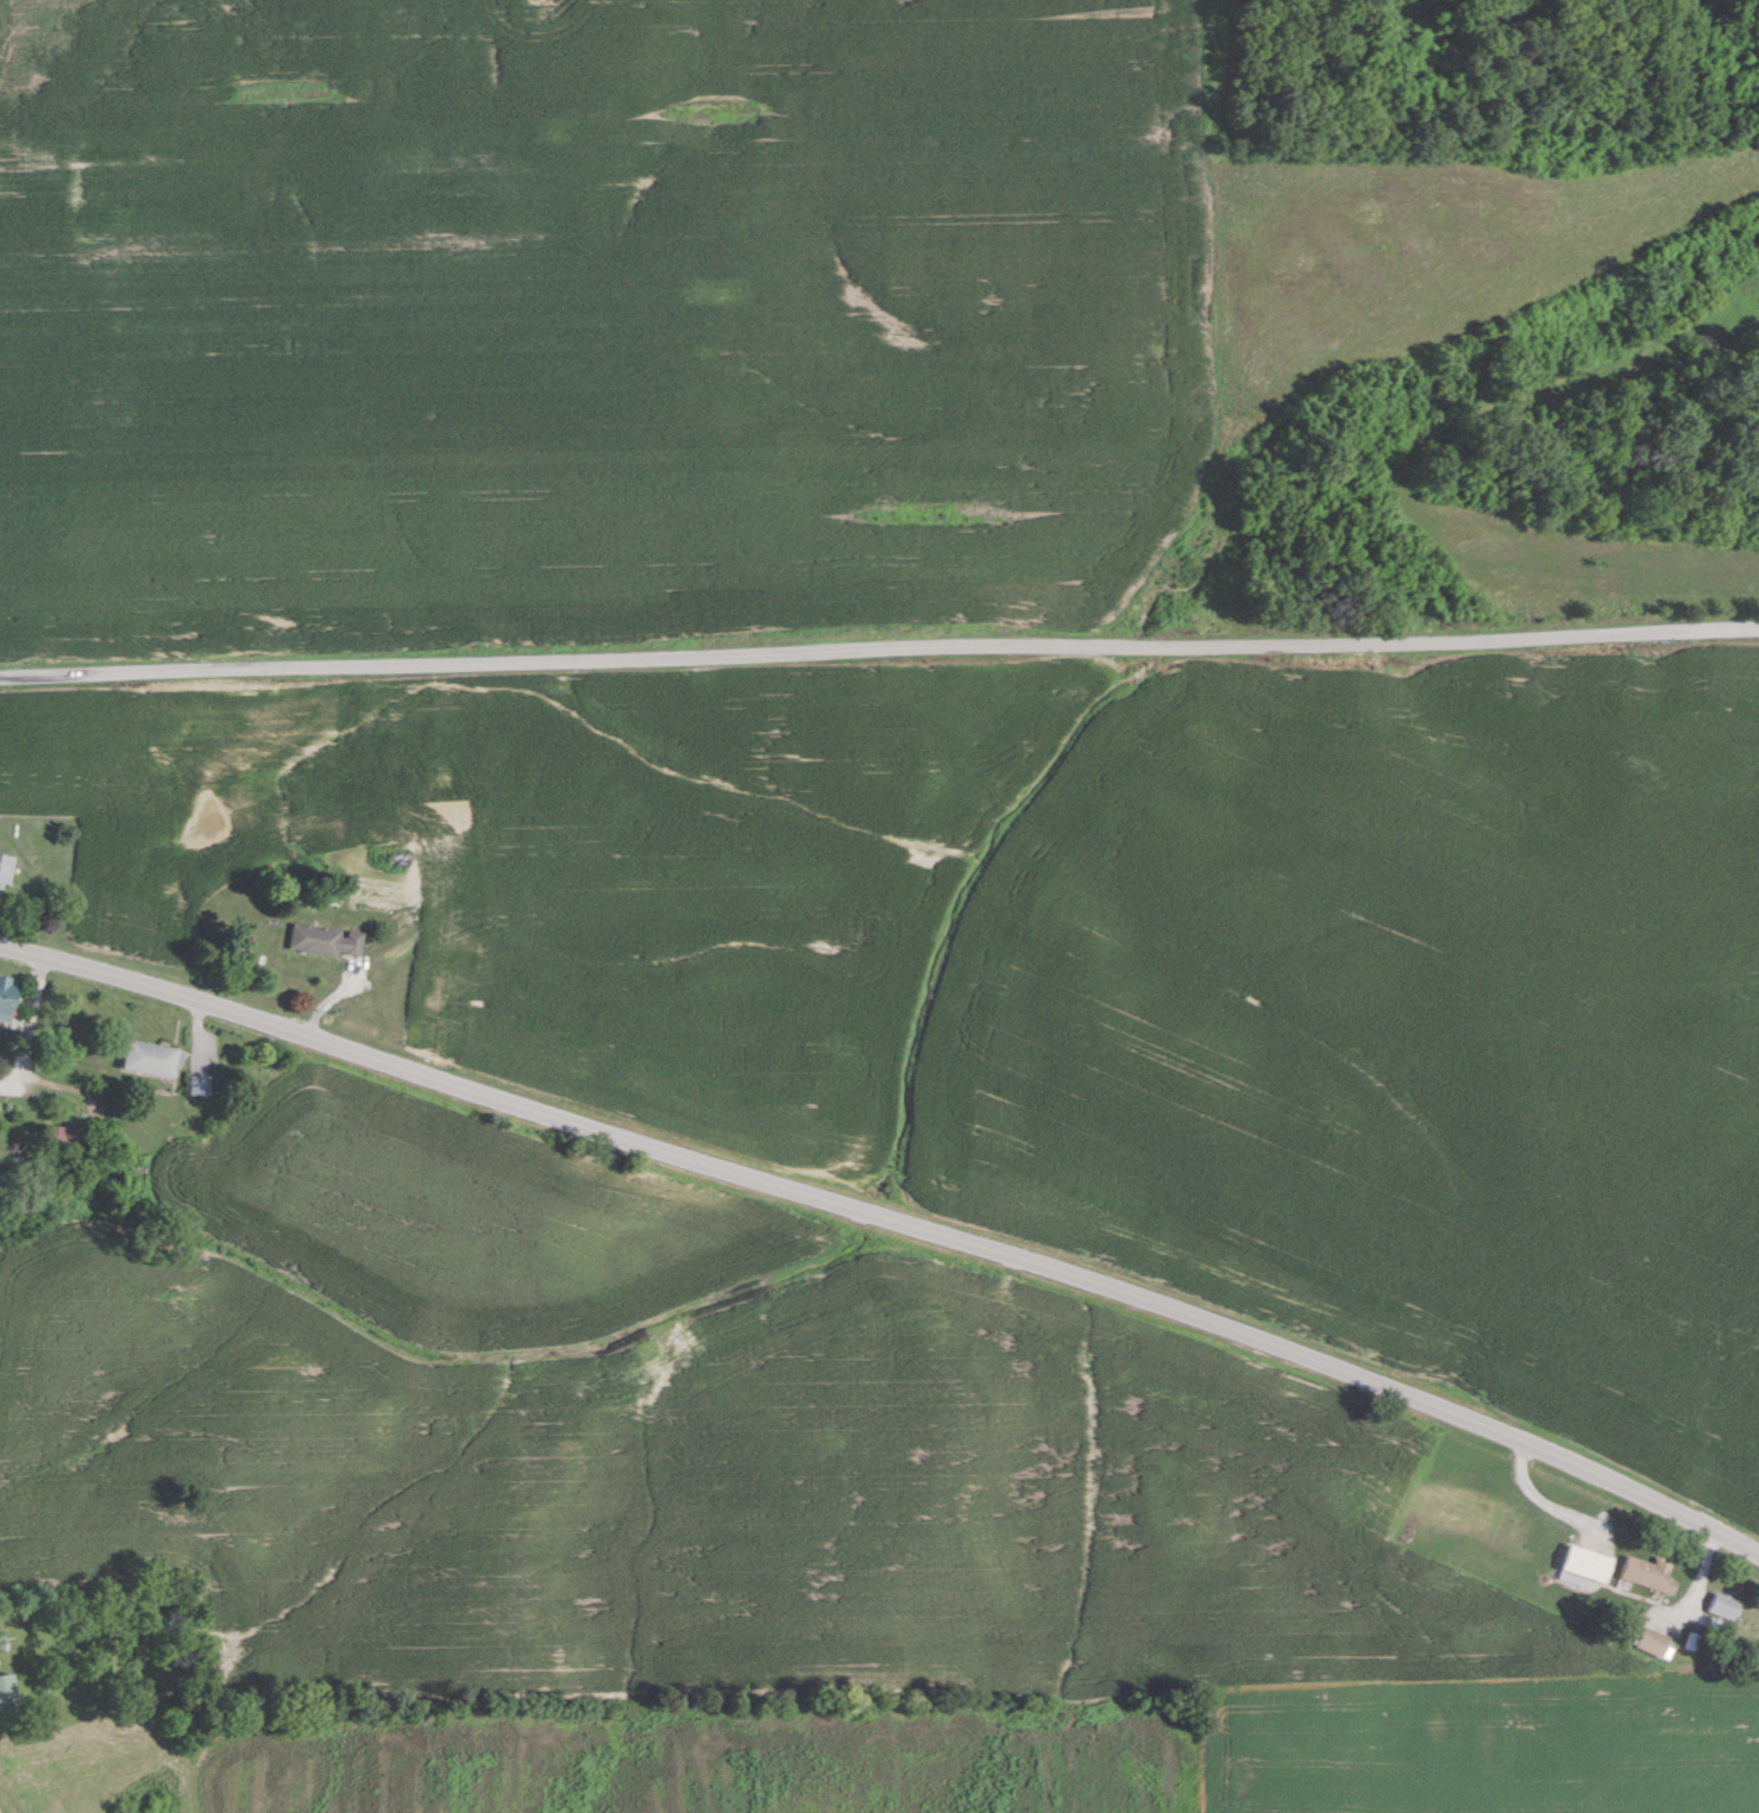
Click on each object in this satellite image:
crop: (1747, 7)
crop: (595, 320)
road: (879, 647)
building: (5, 872)
building: (384, 889)
building: (325, 941)
crop: (1179, 981)
building: (6, 995)
building: (150, 1056)
building: (199, 1085)
building: (63, 1136)
road: (890, 1219)
crop: (768, 1483)
building: (1584, 1562)
building: (1651, 1574)
building: (1723, 1605)
building: (2, 1639)
building: (1652, 1641)
building: (7, 1692)

